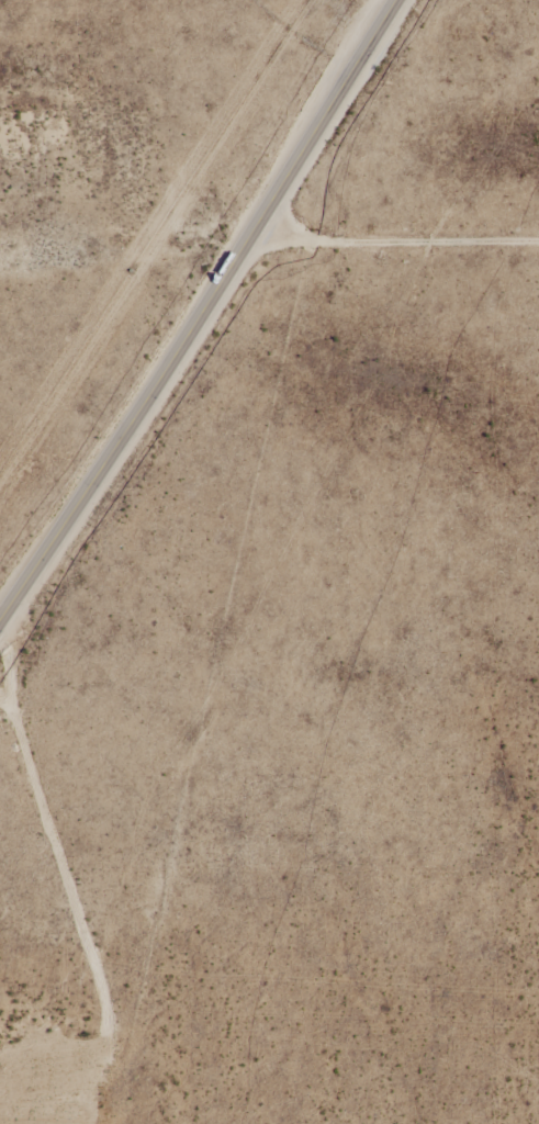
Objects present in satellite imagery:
road: (397, 233)
road: (203, 314)
road: (50, 884)

